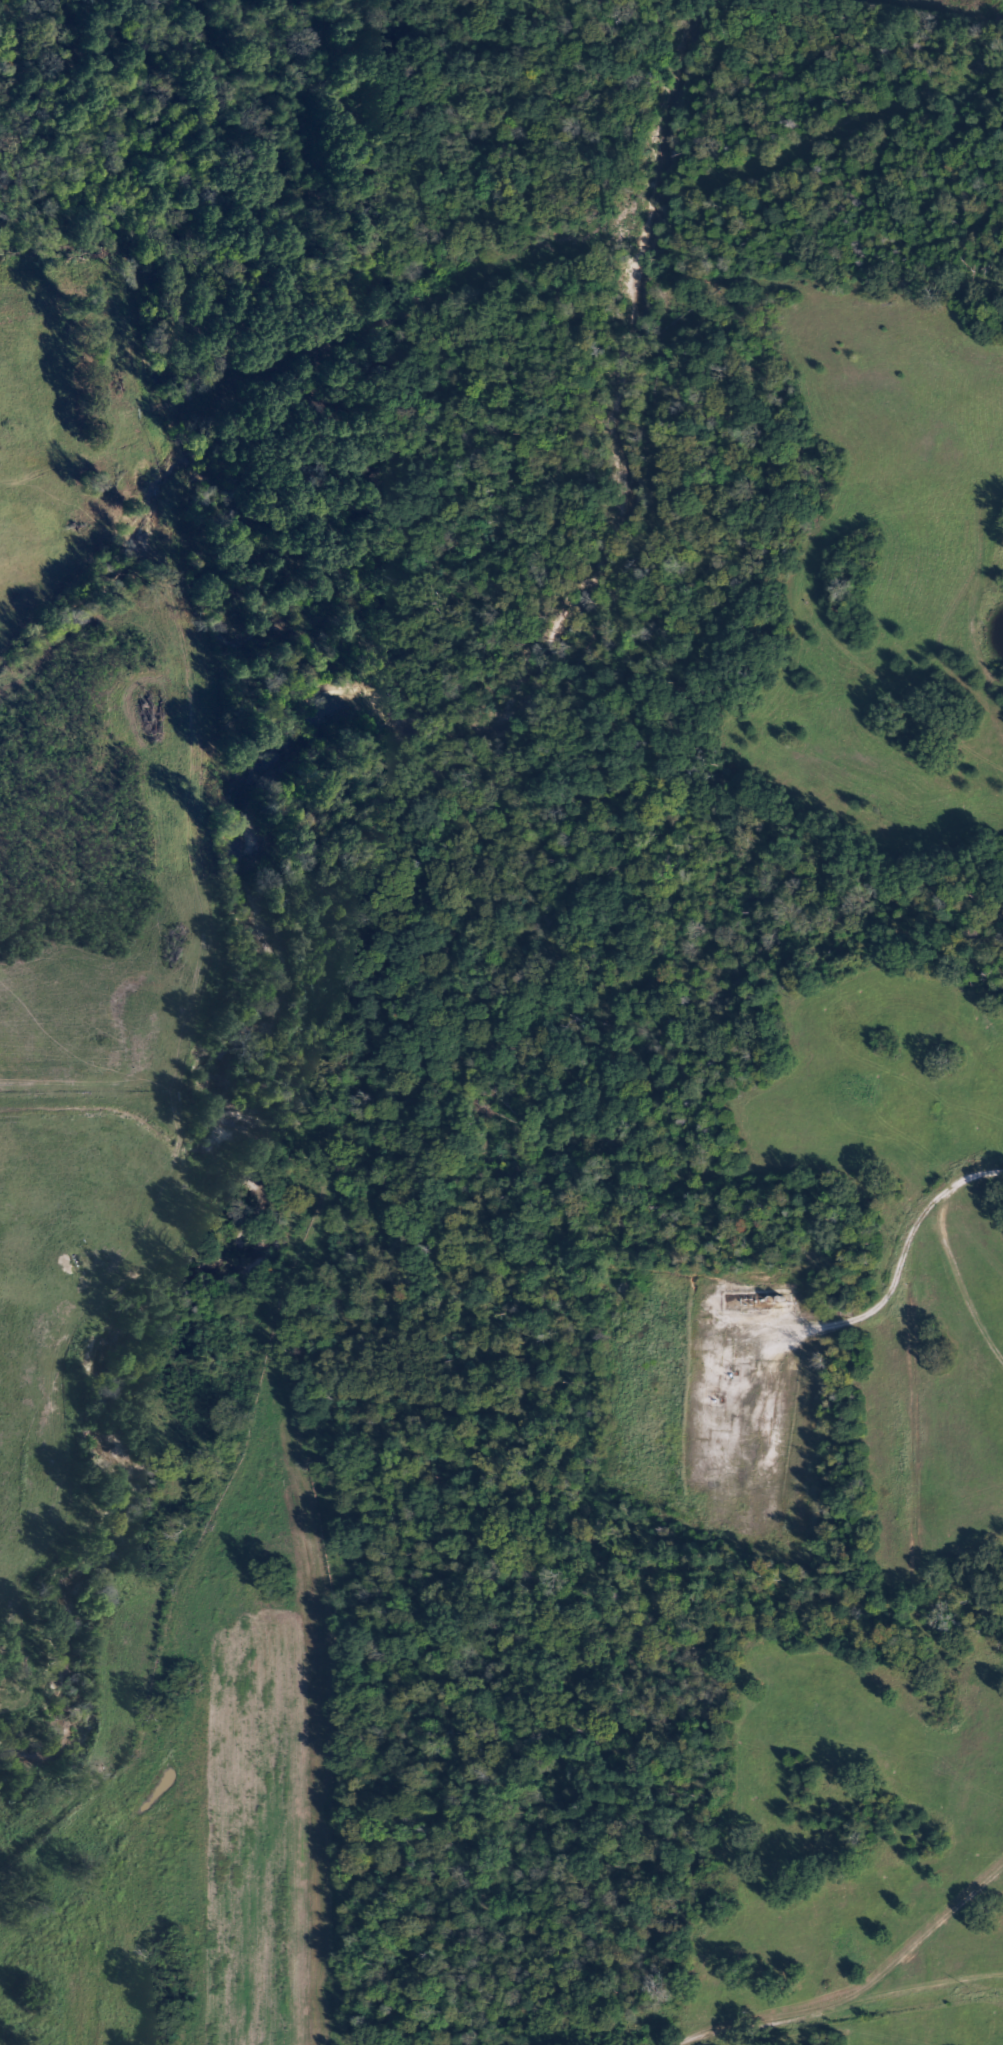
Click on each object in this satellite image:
road: (951, 1605)

